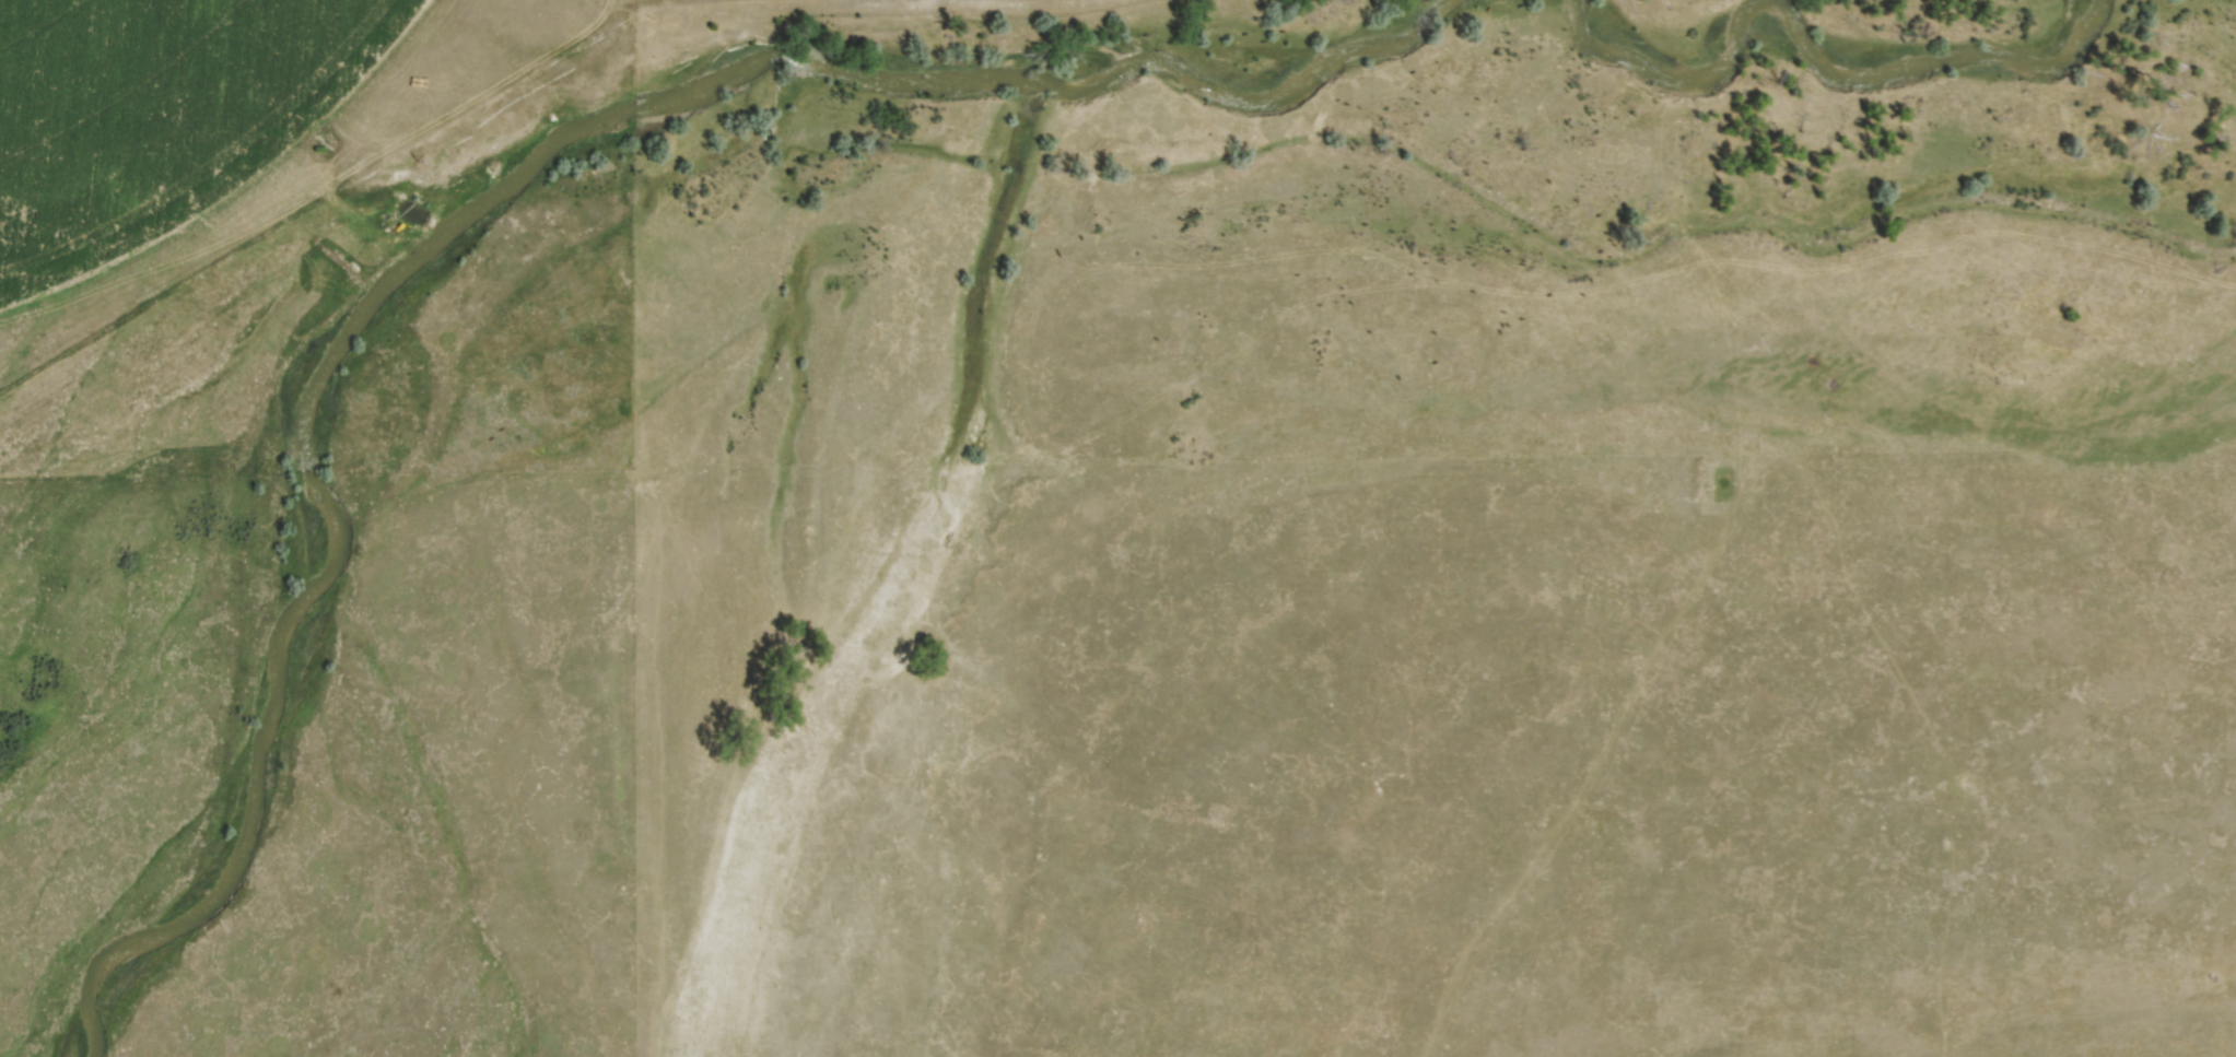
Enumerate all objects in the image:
river: (1812, 48)
river: (496, 185)

